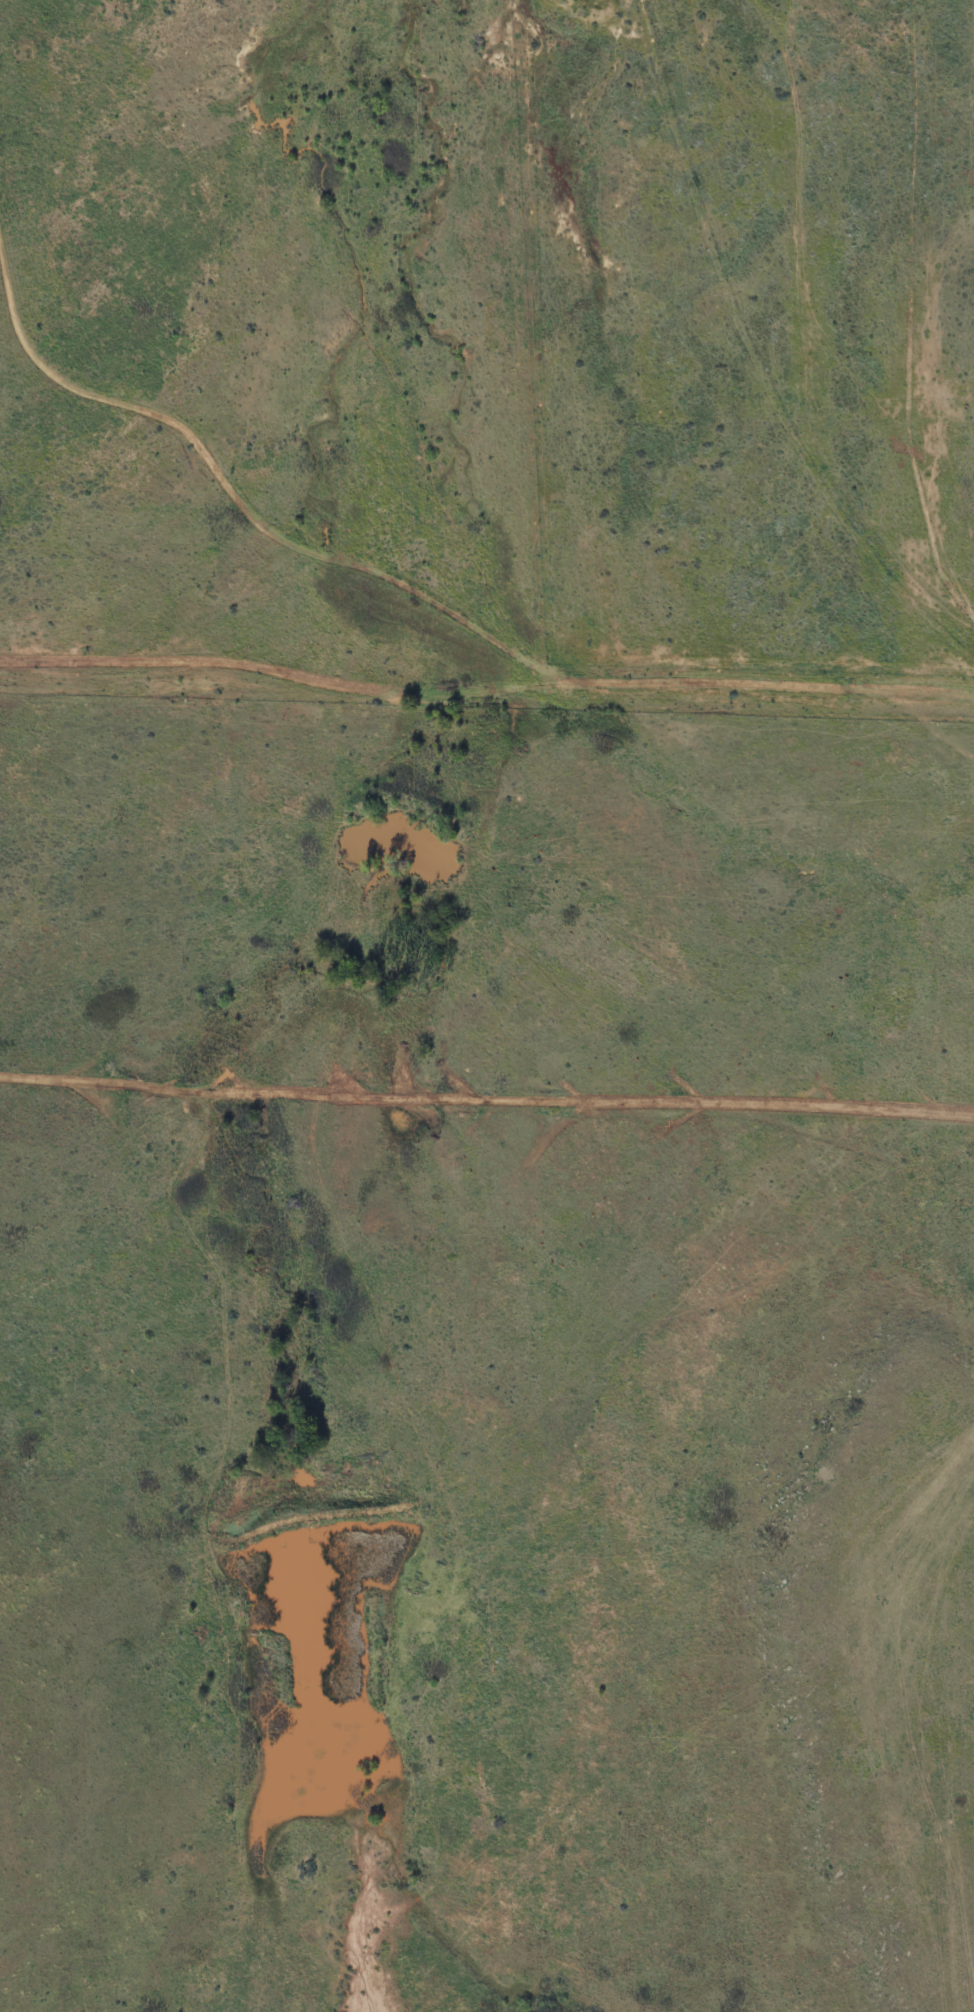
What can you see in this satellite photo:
road: (247, 455)
road: (491, 687)

